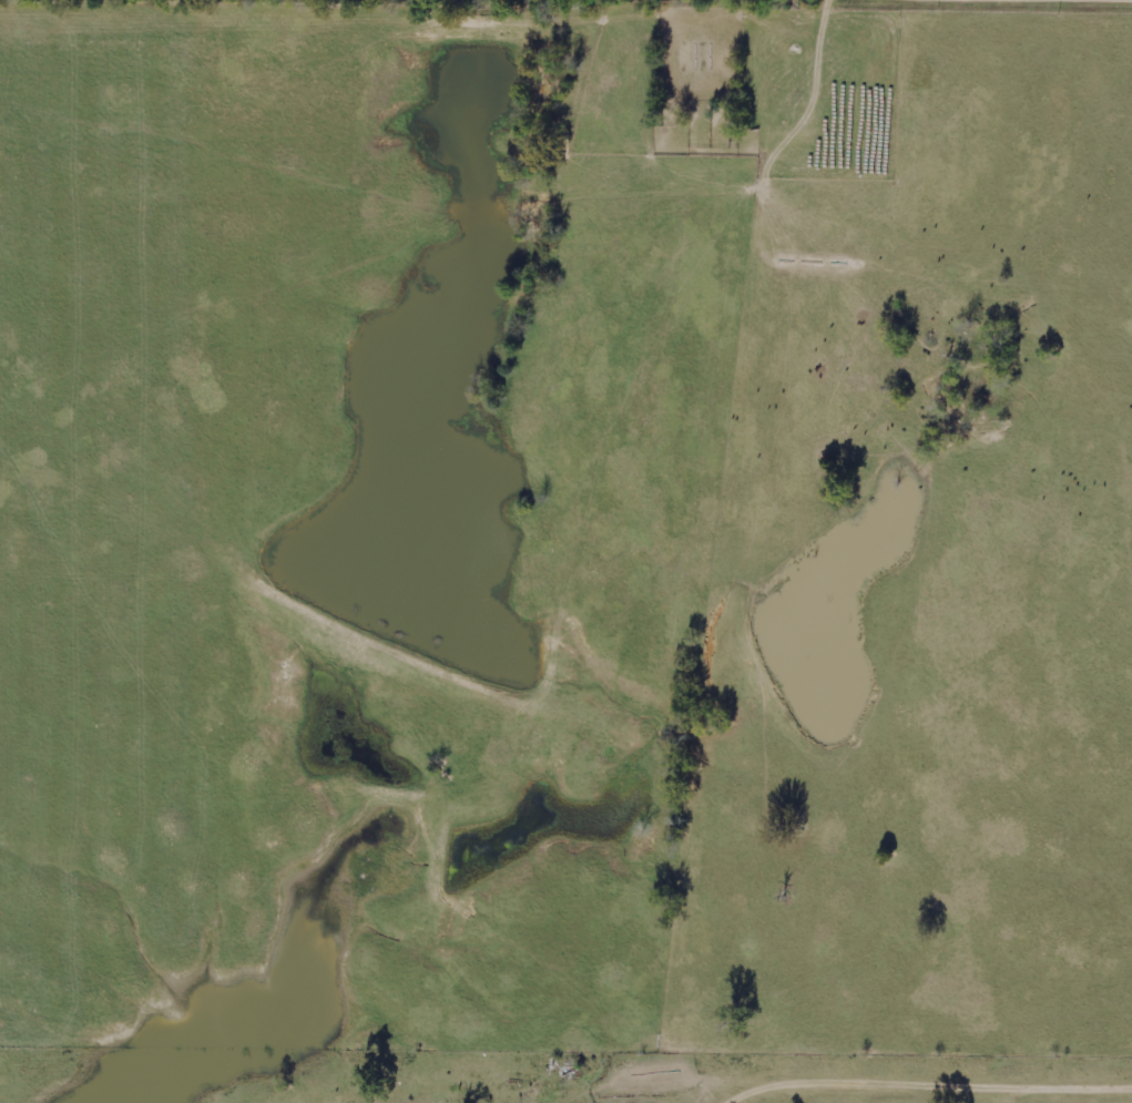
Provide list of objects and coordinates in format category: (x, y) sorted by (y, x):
road: (1109, 0)
road: (929, 1086)

